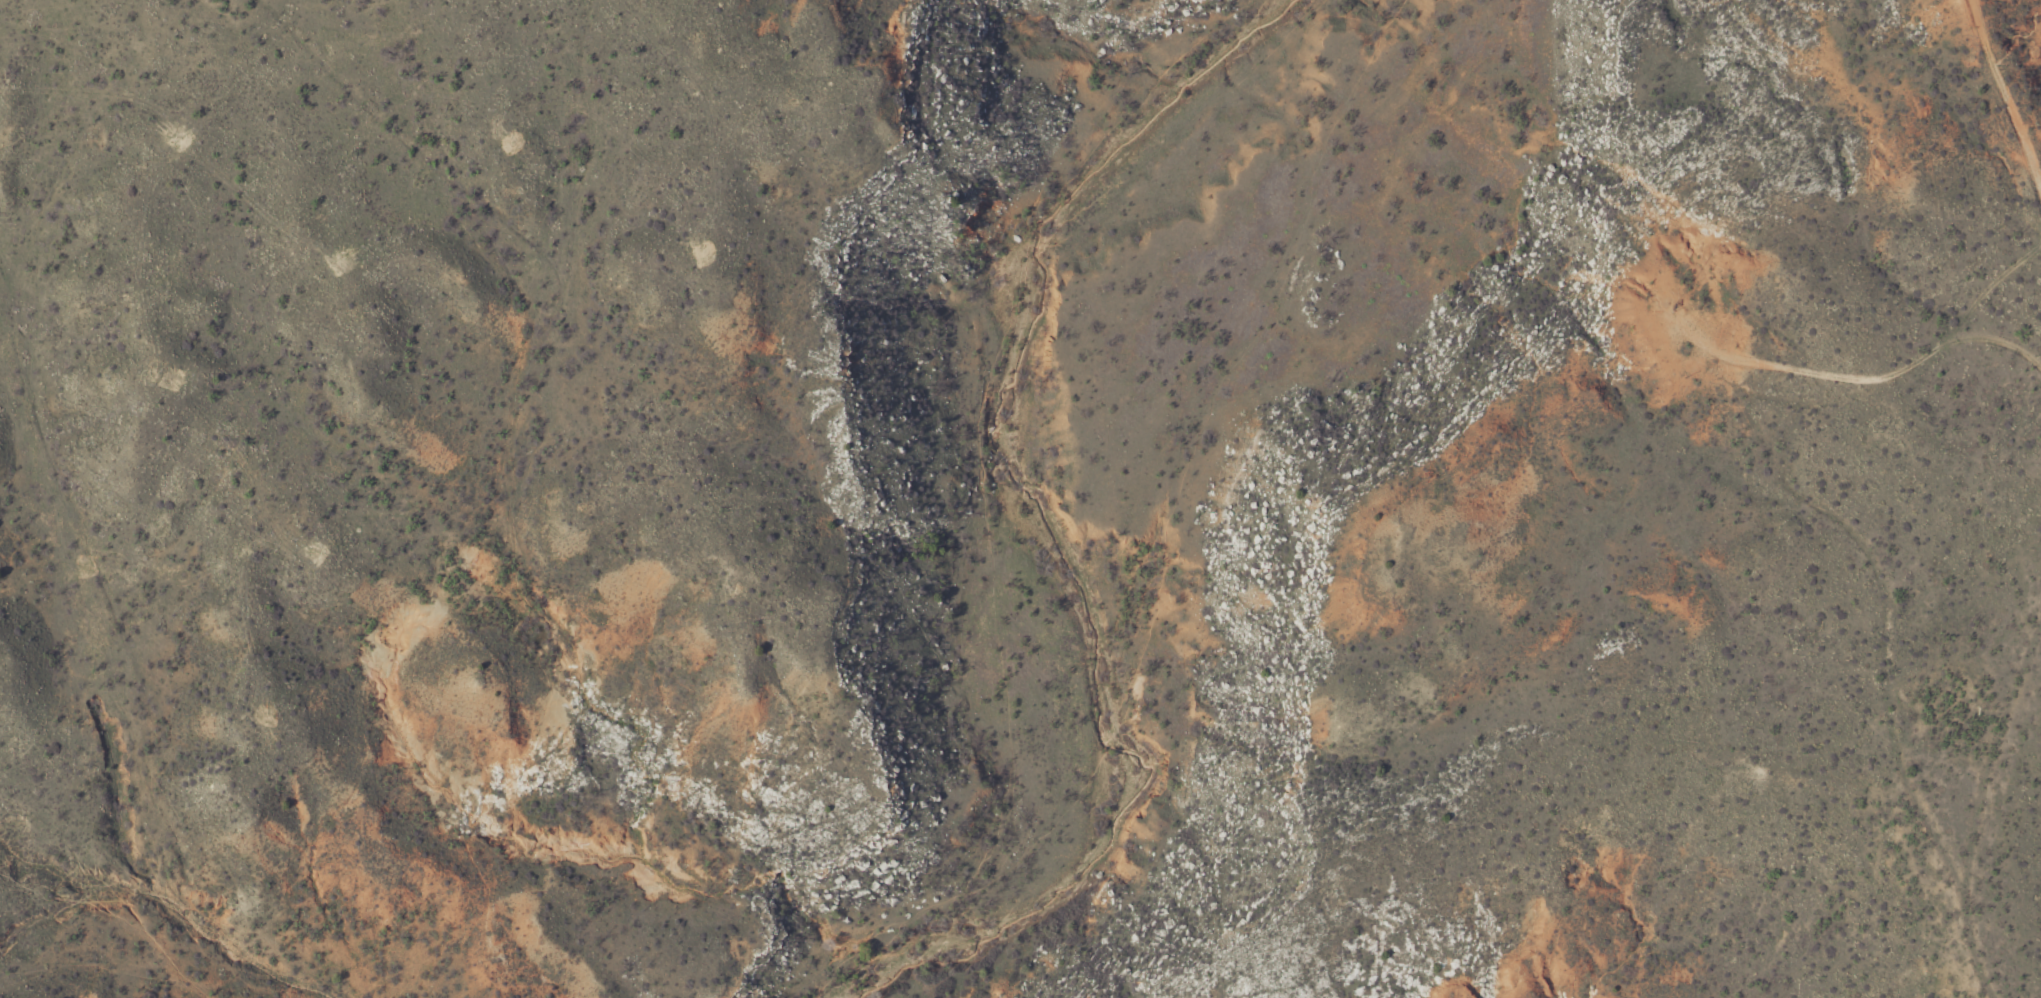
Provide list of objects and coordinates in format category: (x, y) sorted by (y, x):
road: (2002, 69)

